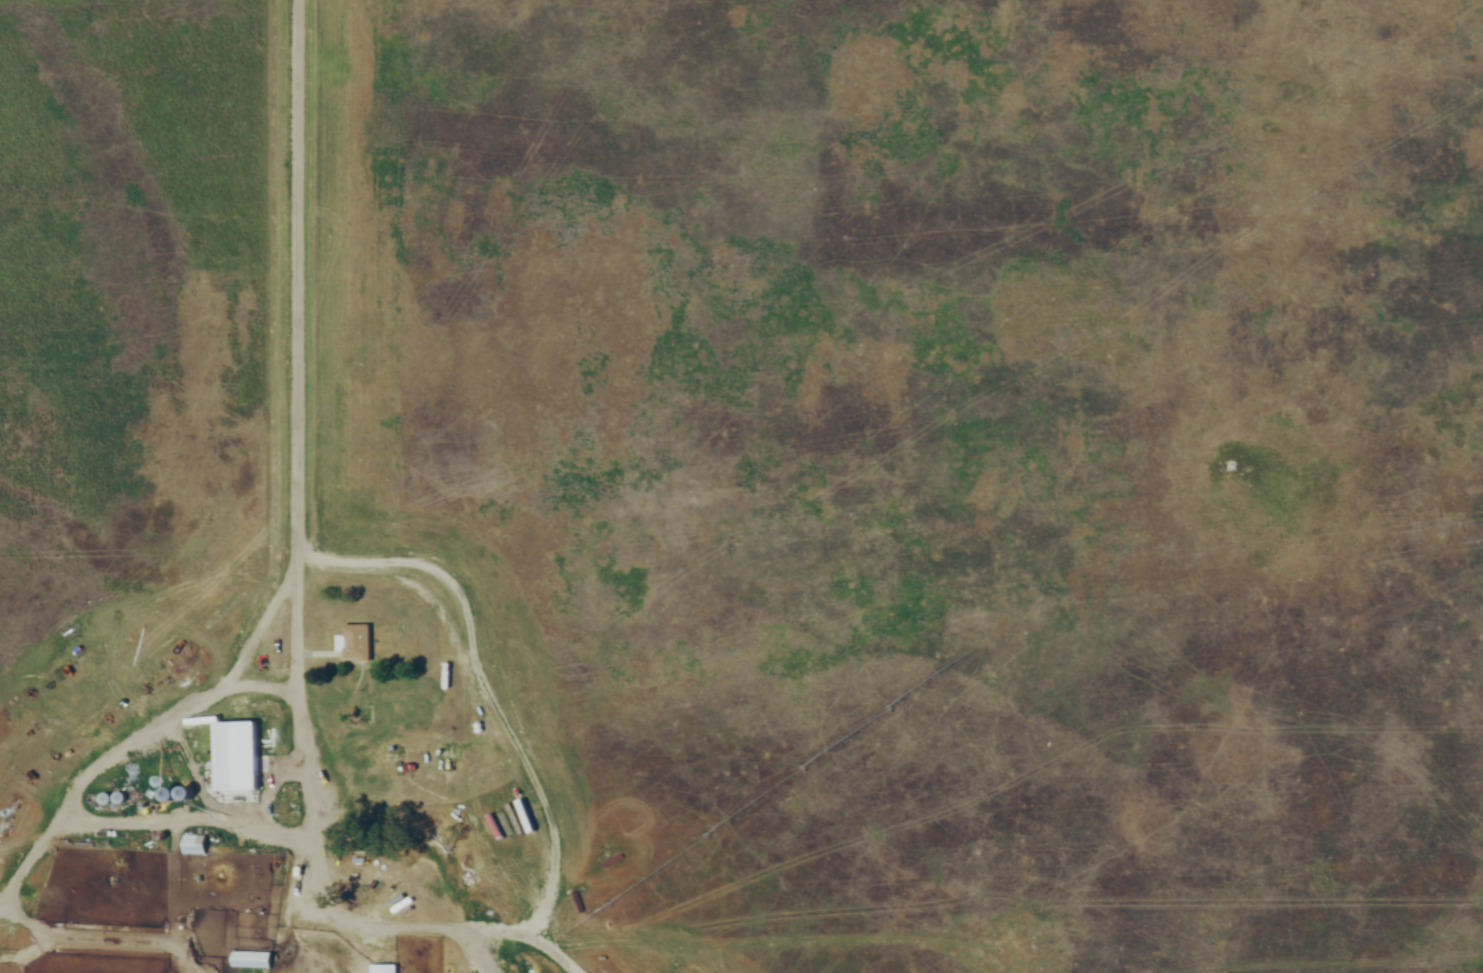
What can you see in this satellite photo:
road: (301, 326)
building: (355, 641)
building: (227, 774)
building: (194, 843)
building: (251, 958)
building: (384, 967)

